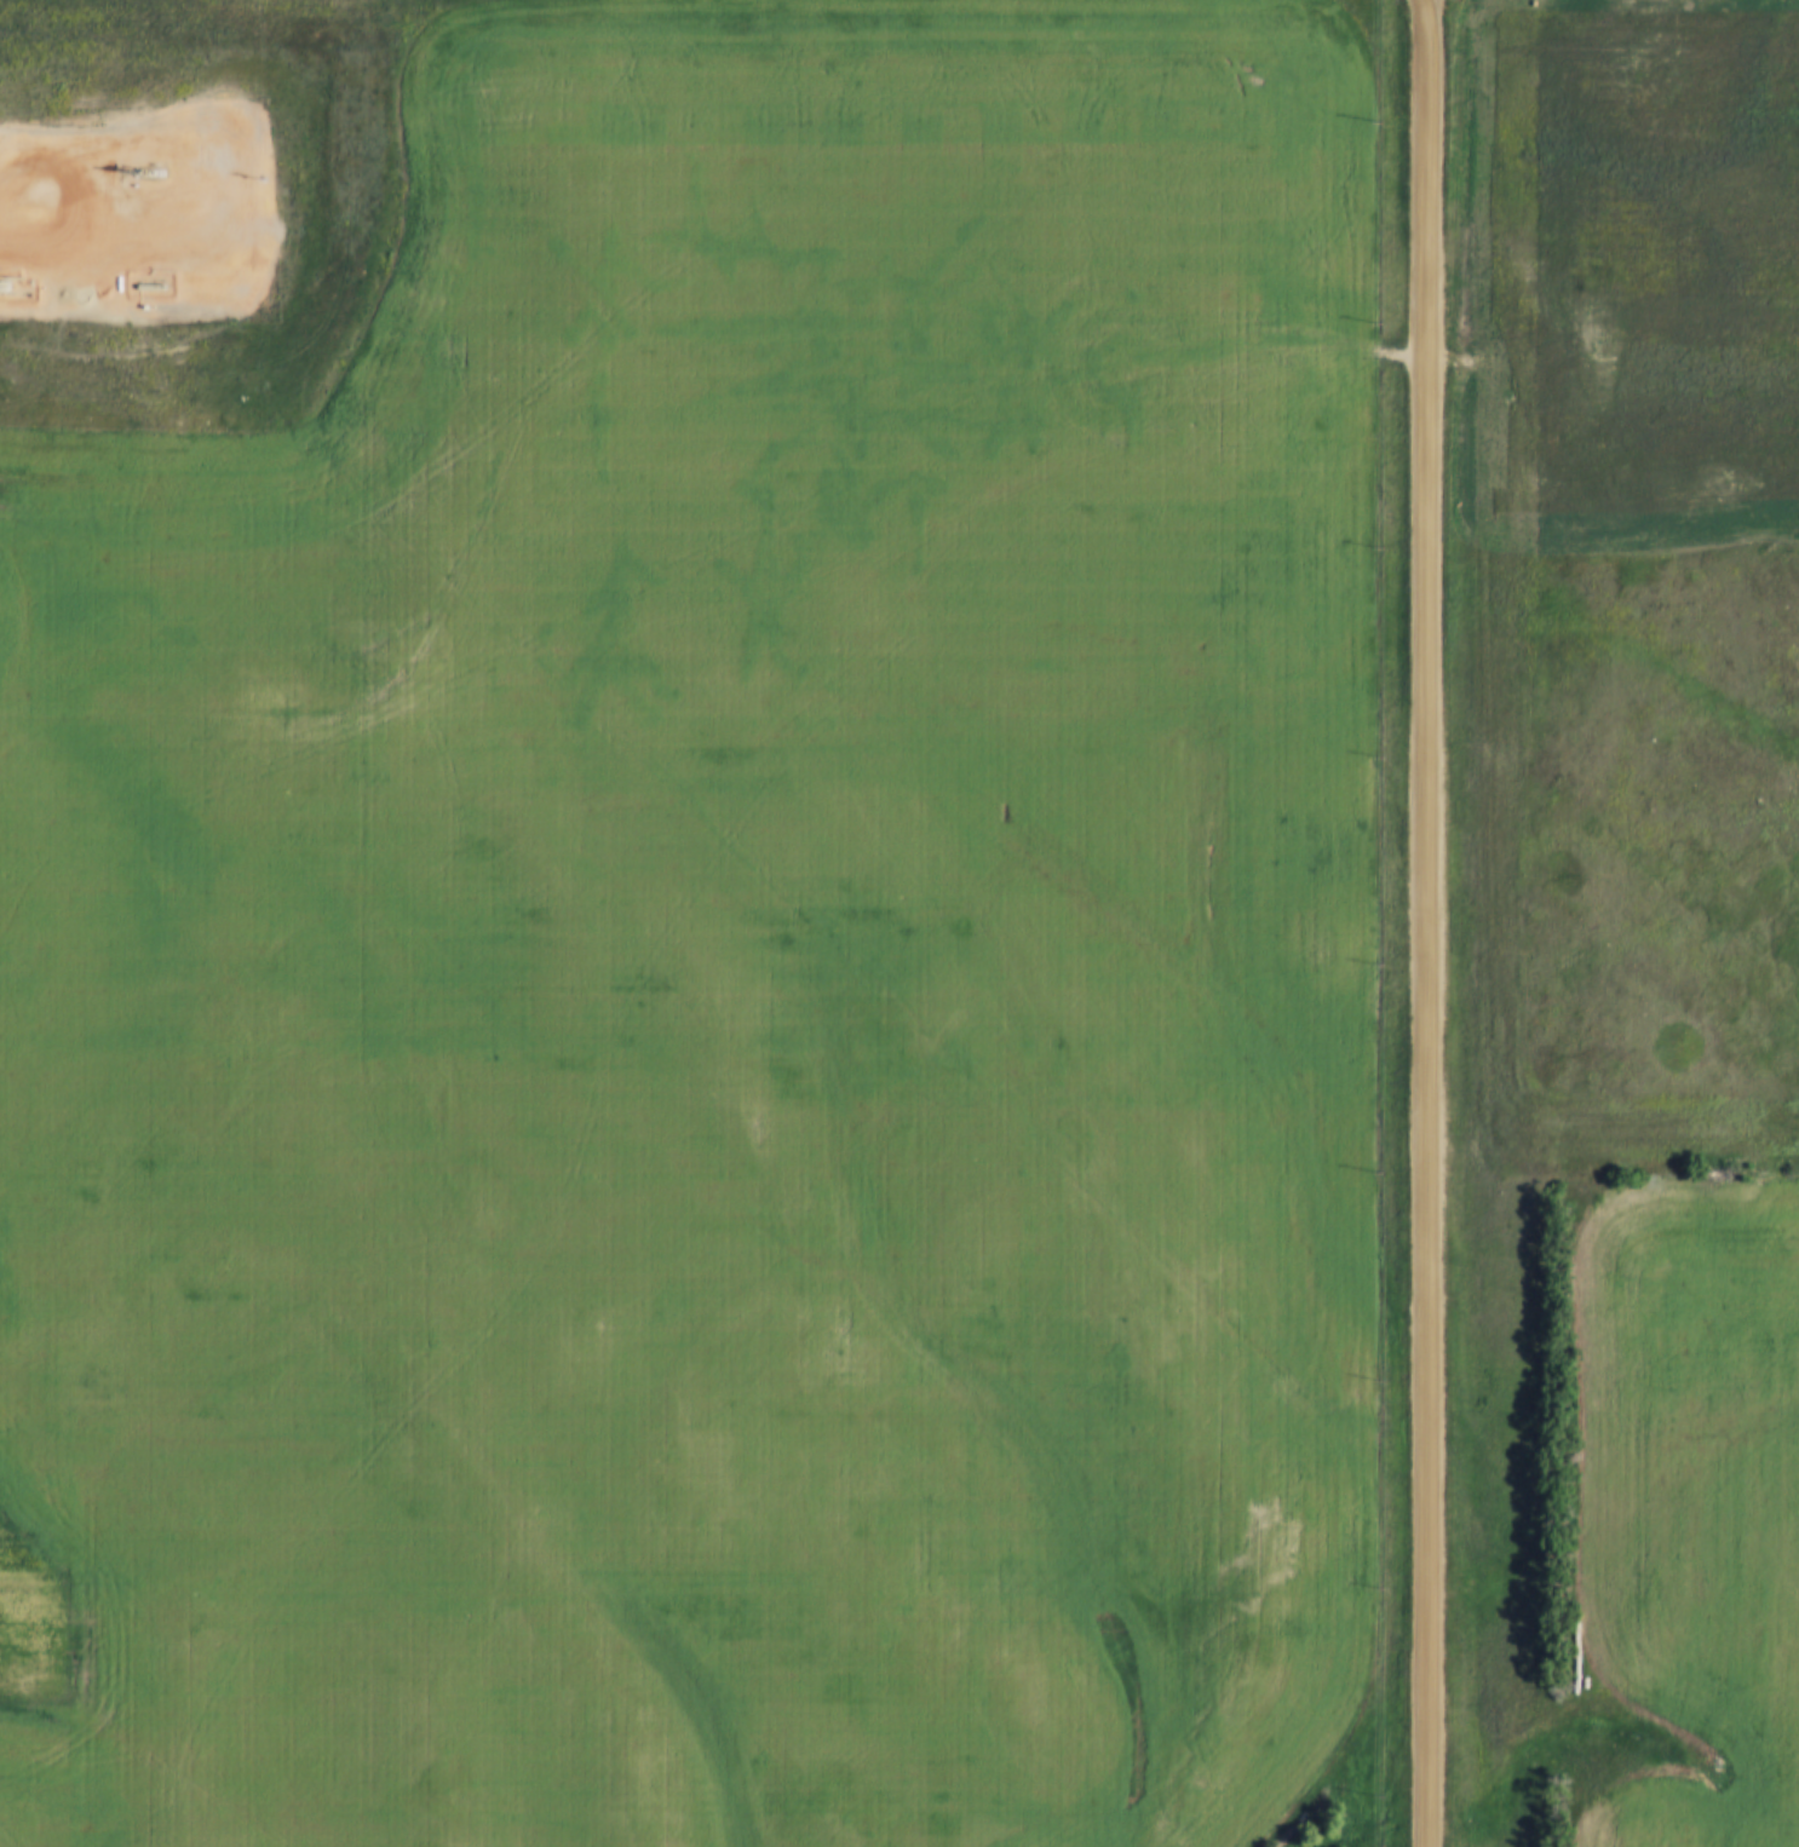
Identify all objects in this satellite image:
road: (1425, 923)

